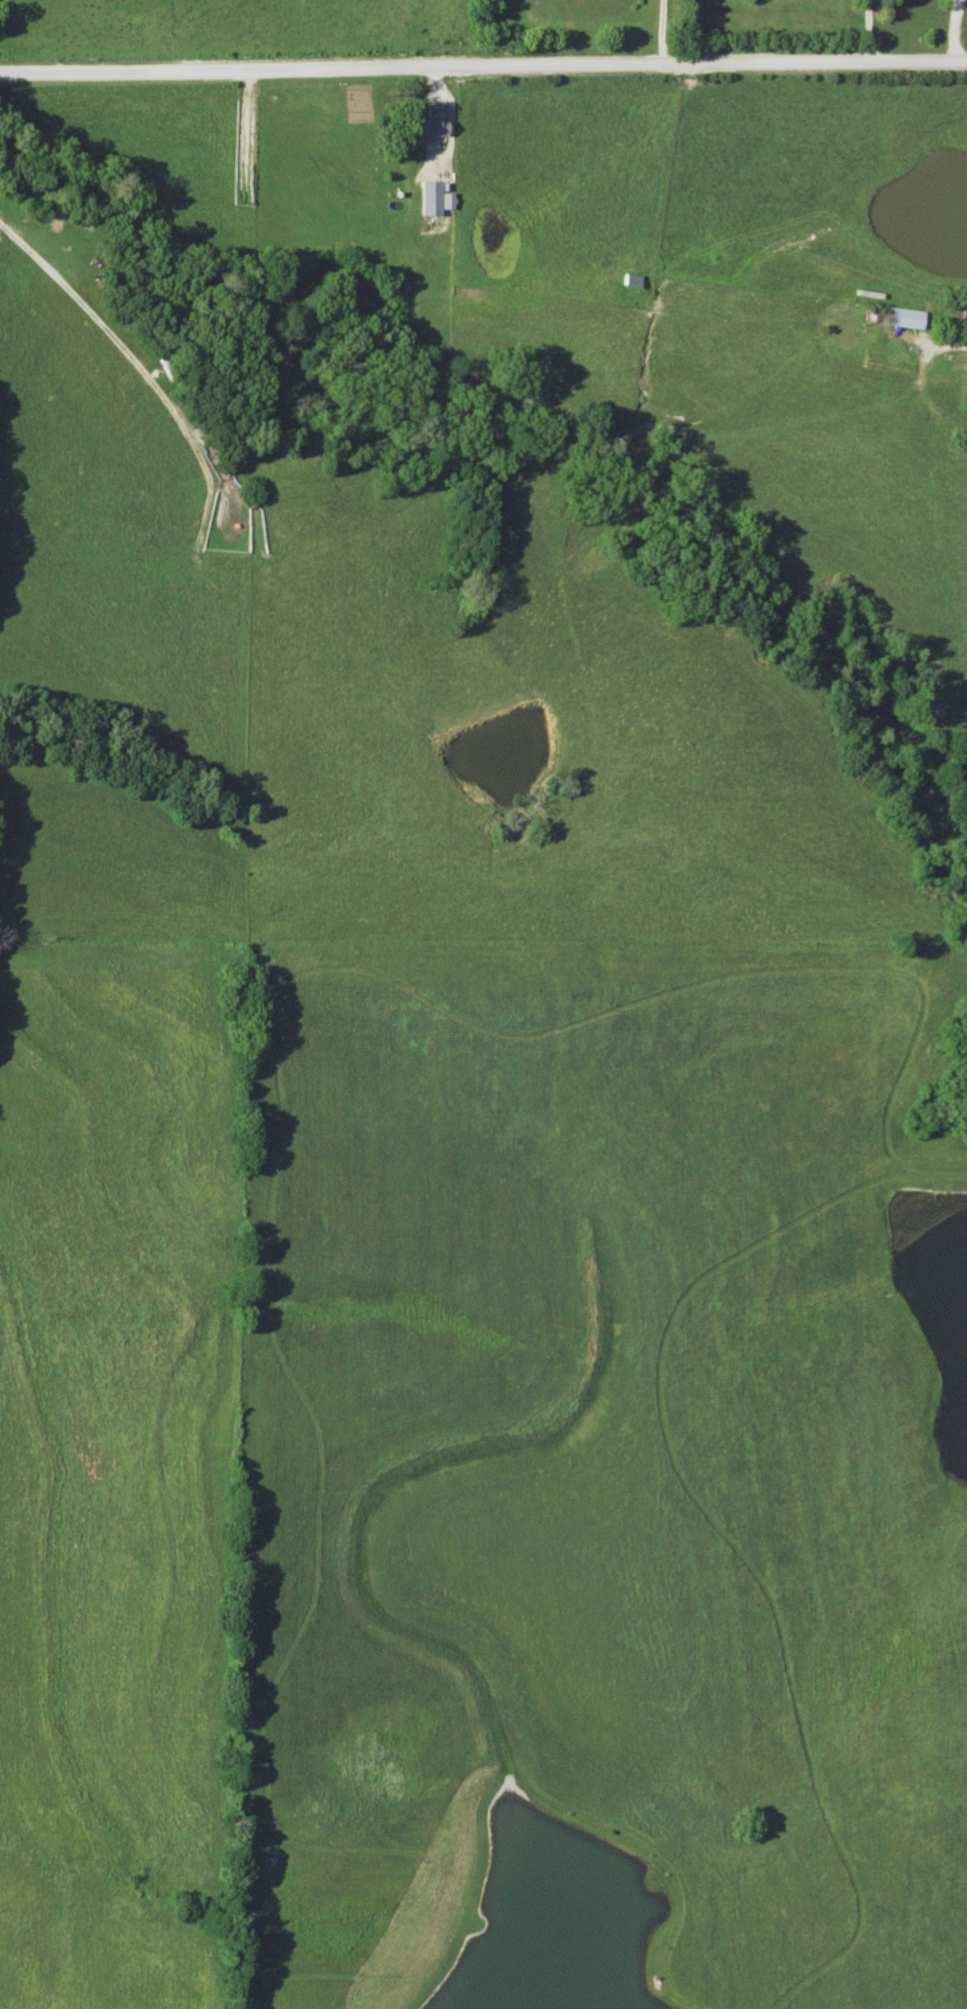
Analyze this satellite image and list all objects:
road: (865, 31)
road: (949, 31)
road: (656, 32)
road: (483, 63)
building: (428, 122)
building: (429, 197)
building: (629, 279)
building: (901, 317)
road: (947, 342)
road: (116, 346)

